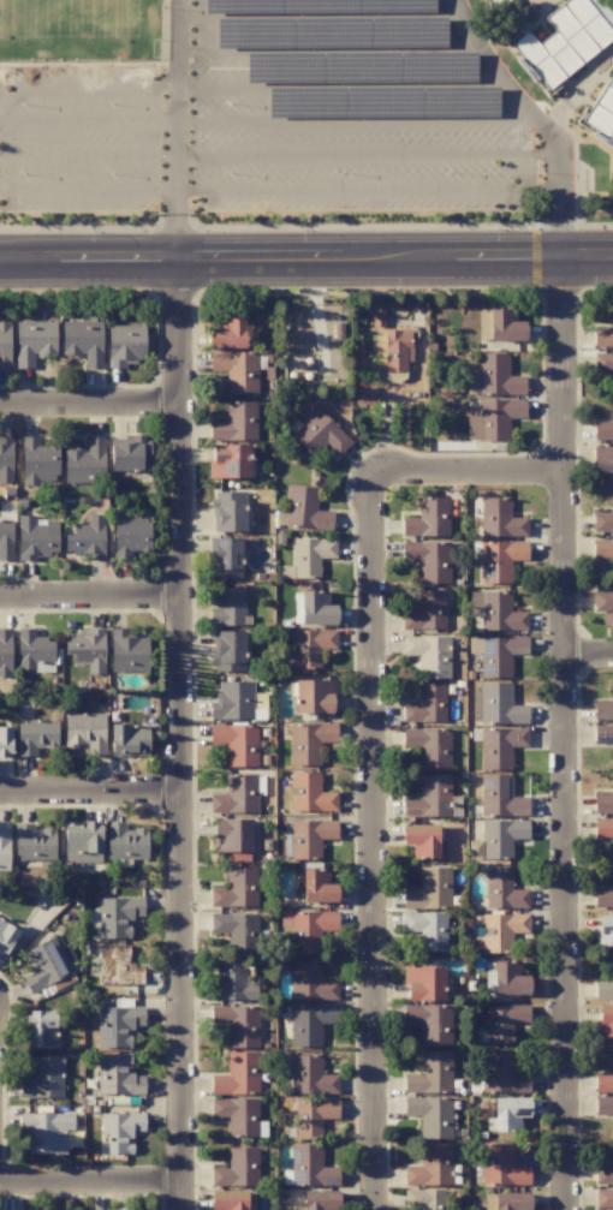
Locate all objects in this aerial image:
road: (319, 14)
road: (328, 49)
building: (612, 78)
road: (251, 85)
road: (246, 121)
road: (538, 121)
road: (177, 132)
road: (280, 156)
road: (280, 191)
road: (306, 263)
building: (612, 314)
building: (228, 332)
building: (602, 336)
building: (395, 348)
building: (603, 362)
building: (237, 370)
building: (511, 385)
building: (612, 387)
building: (363, 397)
building: (612, 405)
road: (88, 409)
building: (236, 422)
building: (321, 434)
building: (230, 460)
building: (612, 467)
road: (468, 469)
building: (612, 502)
building: (231, 515)
building: (504, 525)
building: (138, 538)
building: (310, 555)
building: (612, 556)
building: (499, 560)
building: (430, 561)
road: (89, 598)
building: (427, 612)
building: (496, 612)
building: (311, 646)
building: (232, 651)
building: (429, 654)
building: (500, 654)
road: (591, 658)
building: (612, 681)
building: (496, 704)
building: (427, 705)
road: (569, 735)
road: (180, 737)
building: (5, 739)
building: (309, 741)
building: (237, 743)
building: (429, 746)
building: (500, 746)
building: (612, 755)
road: (90, 793)
building: (310, 793)
building: (433, 793)
building: (236, 794)
building: (612, 810)
building: (603, 827)
building: (310, 838)
building: (500, 838)
road: (375, 839)
building: (422, 840)
building: (317, 886)
building: (237, 889)
building: (612, 889)
building: (504, 890)
building: (114, 918)
building: (237, 929)
building: (306, 929)
building: (501, 931)
building: (612, 931)
building: (6, 936)
building: (612, 961)
building: (37, 970)
building: (508, 978)
building: (310, 982)
building: (232, 983)
building: (424, 984)
building: (612, 1007)
building: (606, 1020)
building: (504, 1021)
building: (430, 1023)
building: (117, 1025)
building: (305, 1035)
building: (612, 1061)
building: (501, 1073)
building: (118, 1075)
building: (310, 1075)
building: (43, 1078)
building: (603, 1083)
building: (234, 1084)
building: (508, 1114)
building: (313, 1116)
building: (434, 1117)
building: (121, 1131)
building: (43, 1132)
building: (612, 1134)
building: (612, 1151)
building: (501, 1164)
building: (430, 1166)
building: (233, 1176)
road: (93, 1186)
building: (612, 1192)

